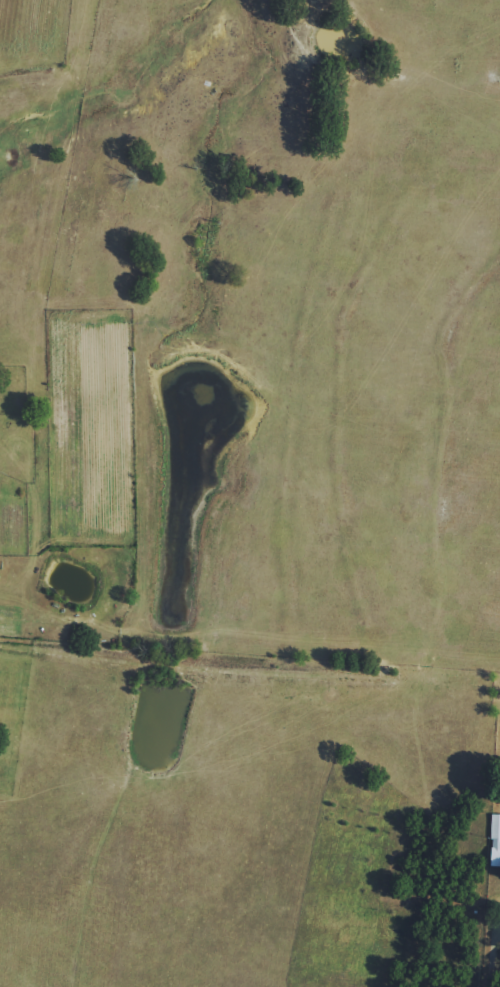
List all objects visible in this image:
building: (495, 840)
road: (494, 959)

